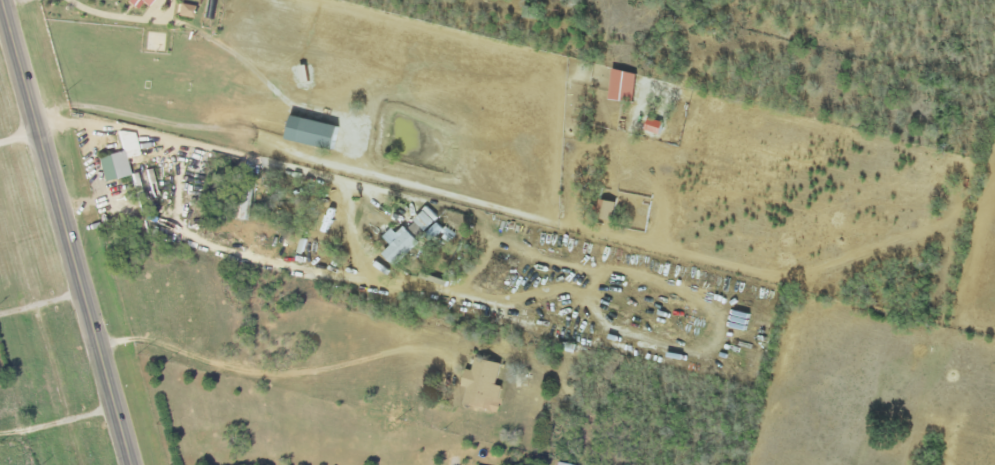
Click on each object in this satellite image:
road: (14, 2)
building: (140, 2)
building: (209, 9)
building: (186, 10)
road: (117, 15)
building: (626, 86)
road: (19, 133)
building: (317, 133)
building: (120, 158)
road: (386, 178)
road: (97, 183)
road: (350, 205)
building: (418, 230)
road: (68, 232)
building: (435, 232)
building: (401, 245)
road: (41, 299)
road: (275, 374)
building: (485, 386)
road: (58, 421)
building: (560, 463)

